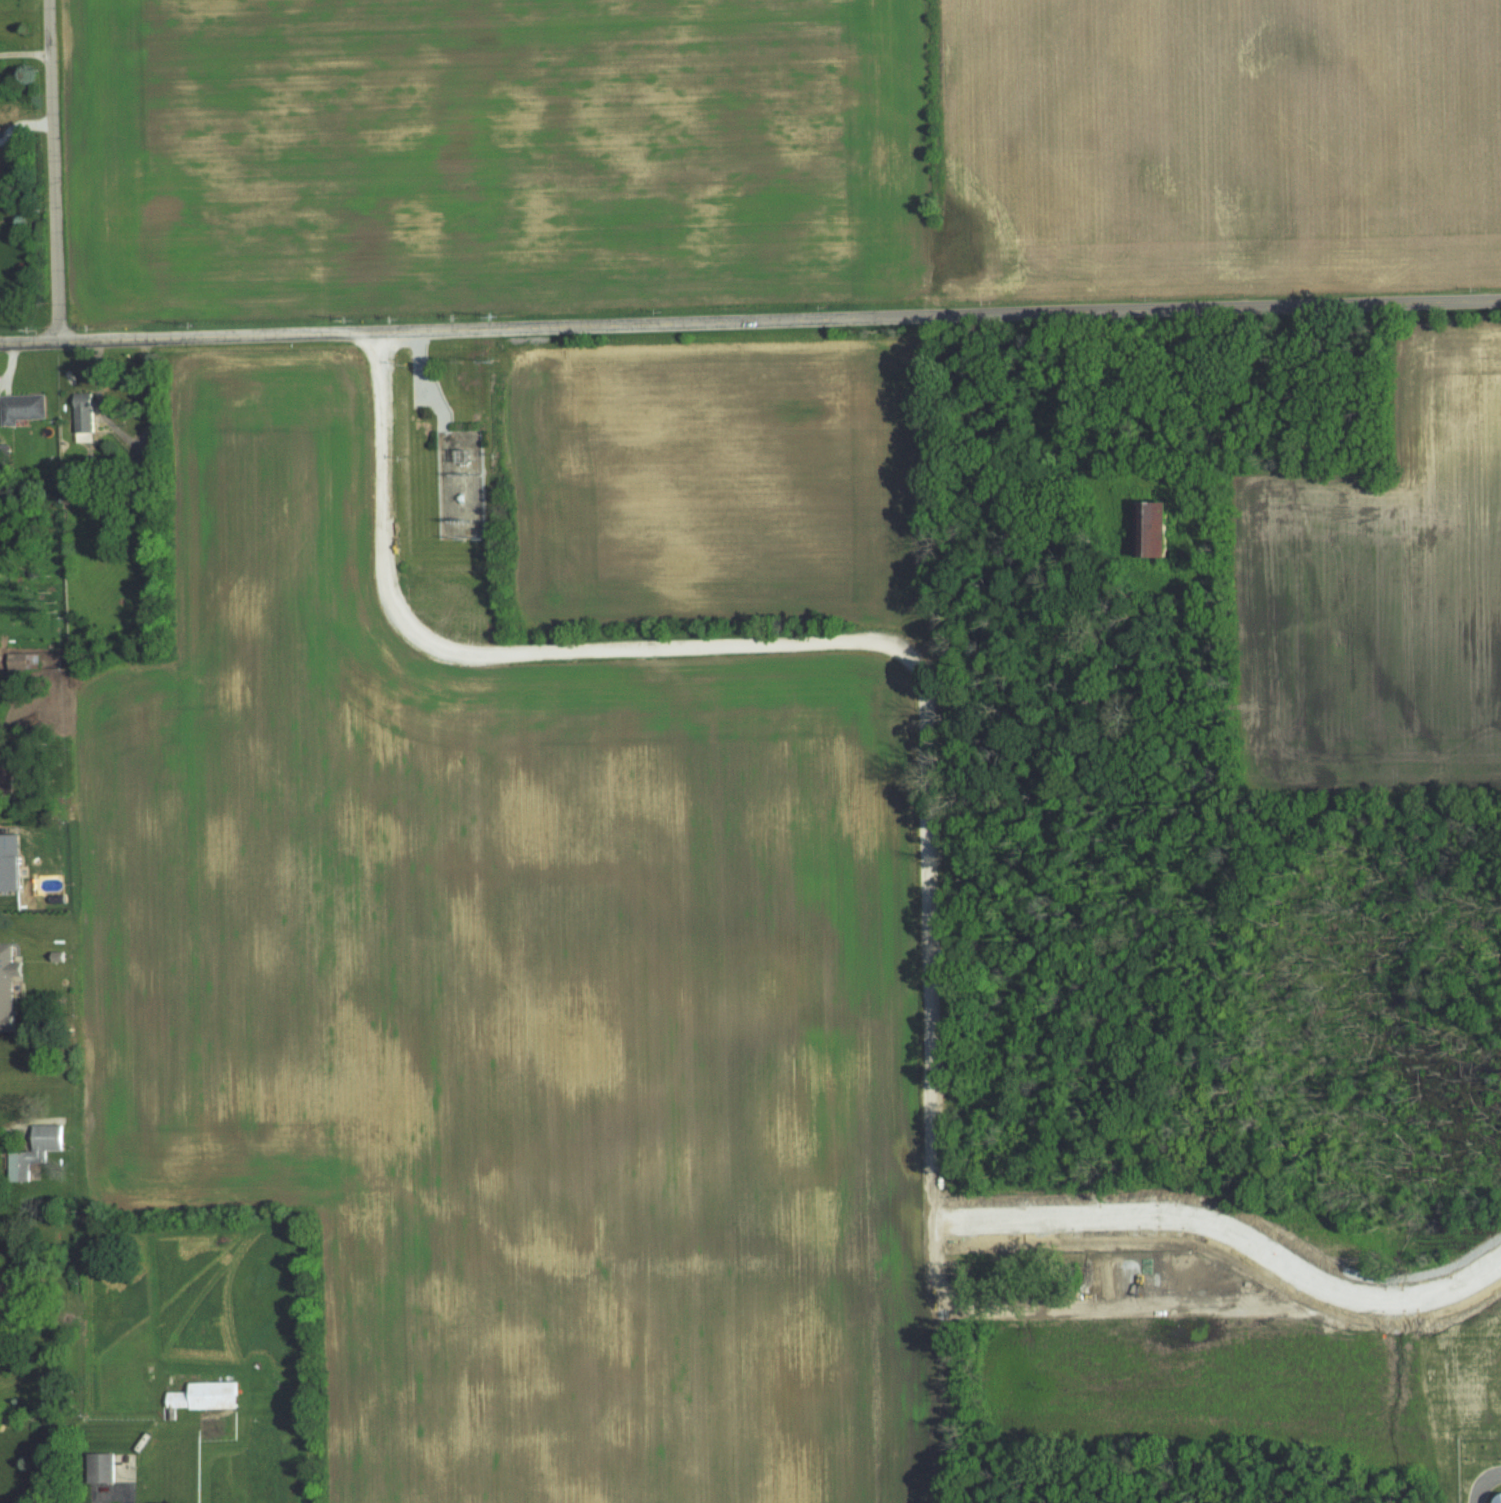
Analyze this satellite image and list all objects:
road: (25, 51)
road: (54, 171)
road: (750, 320)
road: (427, 380)
building: (24, 408)
building: (86, 413)
power substation: (459, 482)
building: (1151, 526)
building: (0, 638)
building: (26, 661)
building: (13, 862)
building: (9, 985)
road: (4, 1129)
building: (39, 1151)
building: (18, 1282)
building: (3, 1285)
building: (208, 1396)
building: (106, 1467)
road: (1481, 1483)
building: (1493, 1497)

